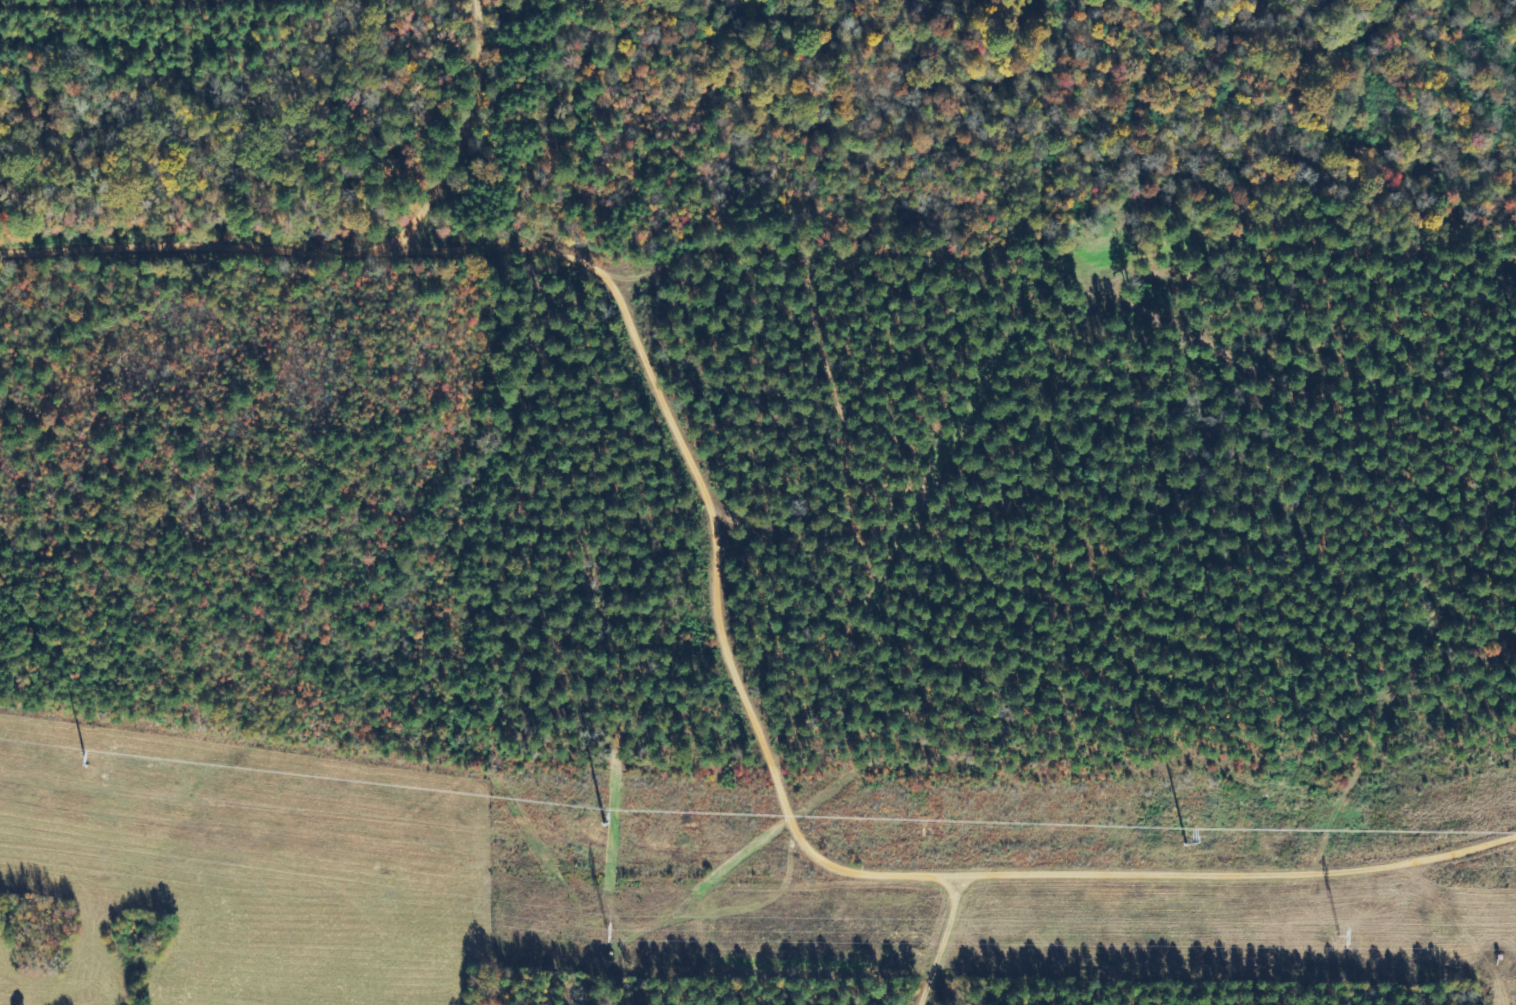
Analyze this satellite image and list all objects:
power tower: (604, 926)
power tower: (1337, 932)

